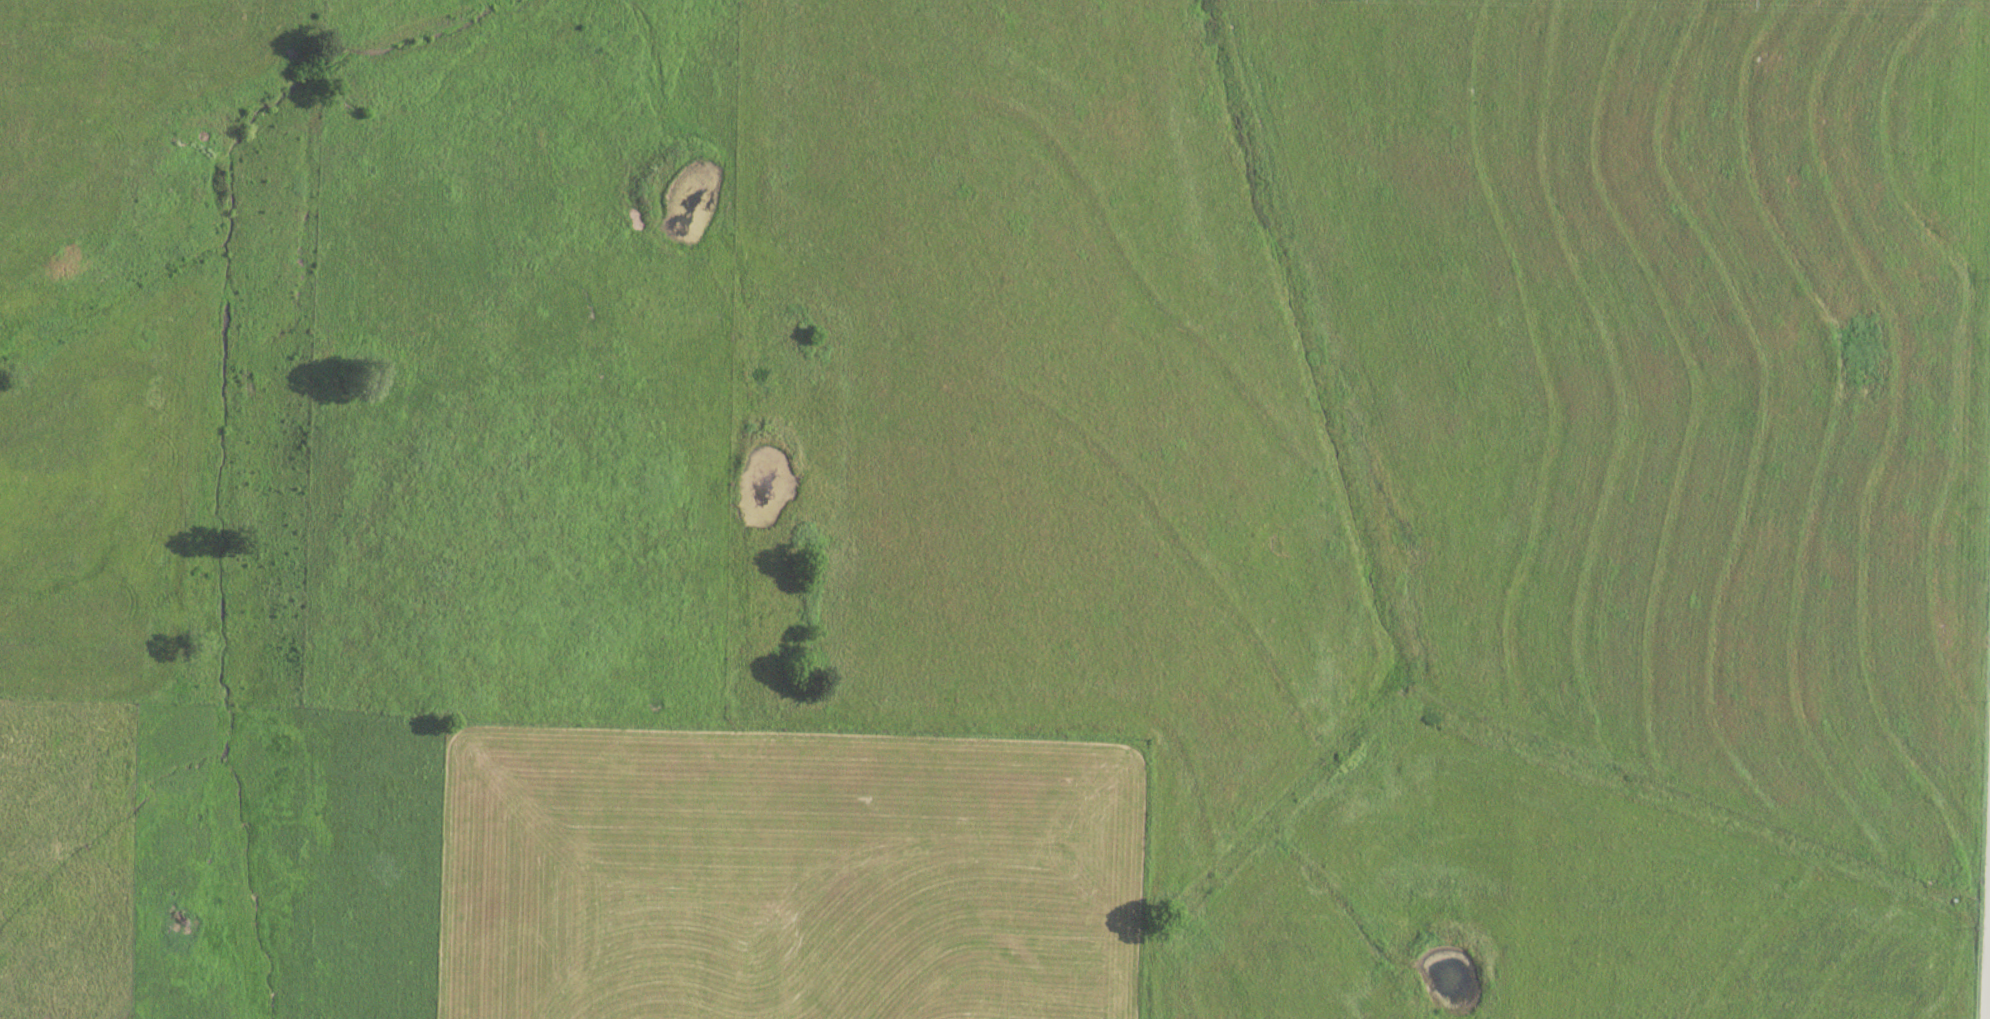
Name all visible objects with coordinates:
road: (1988, 981)

